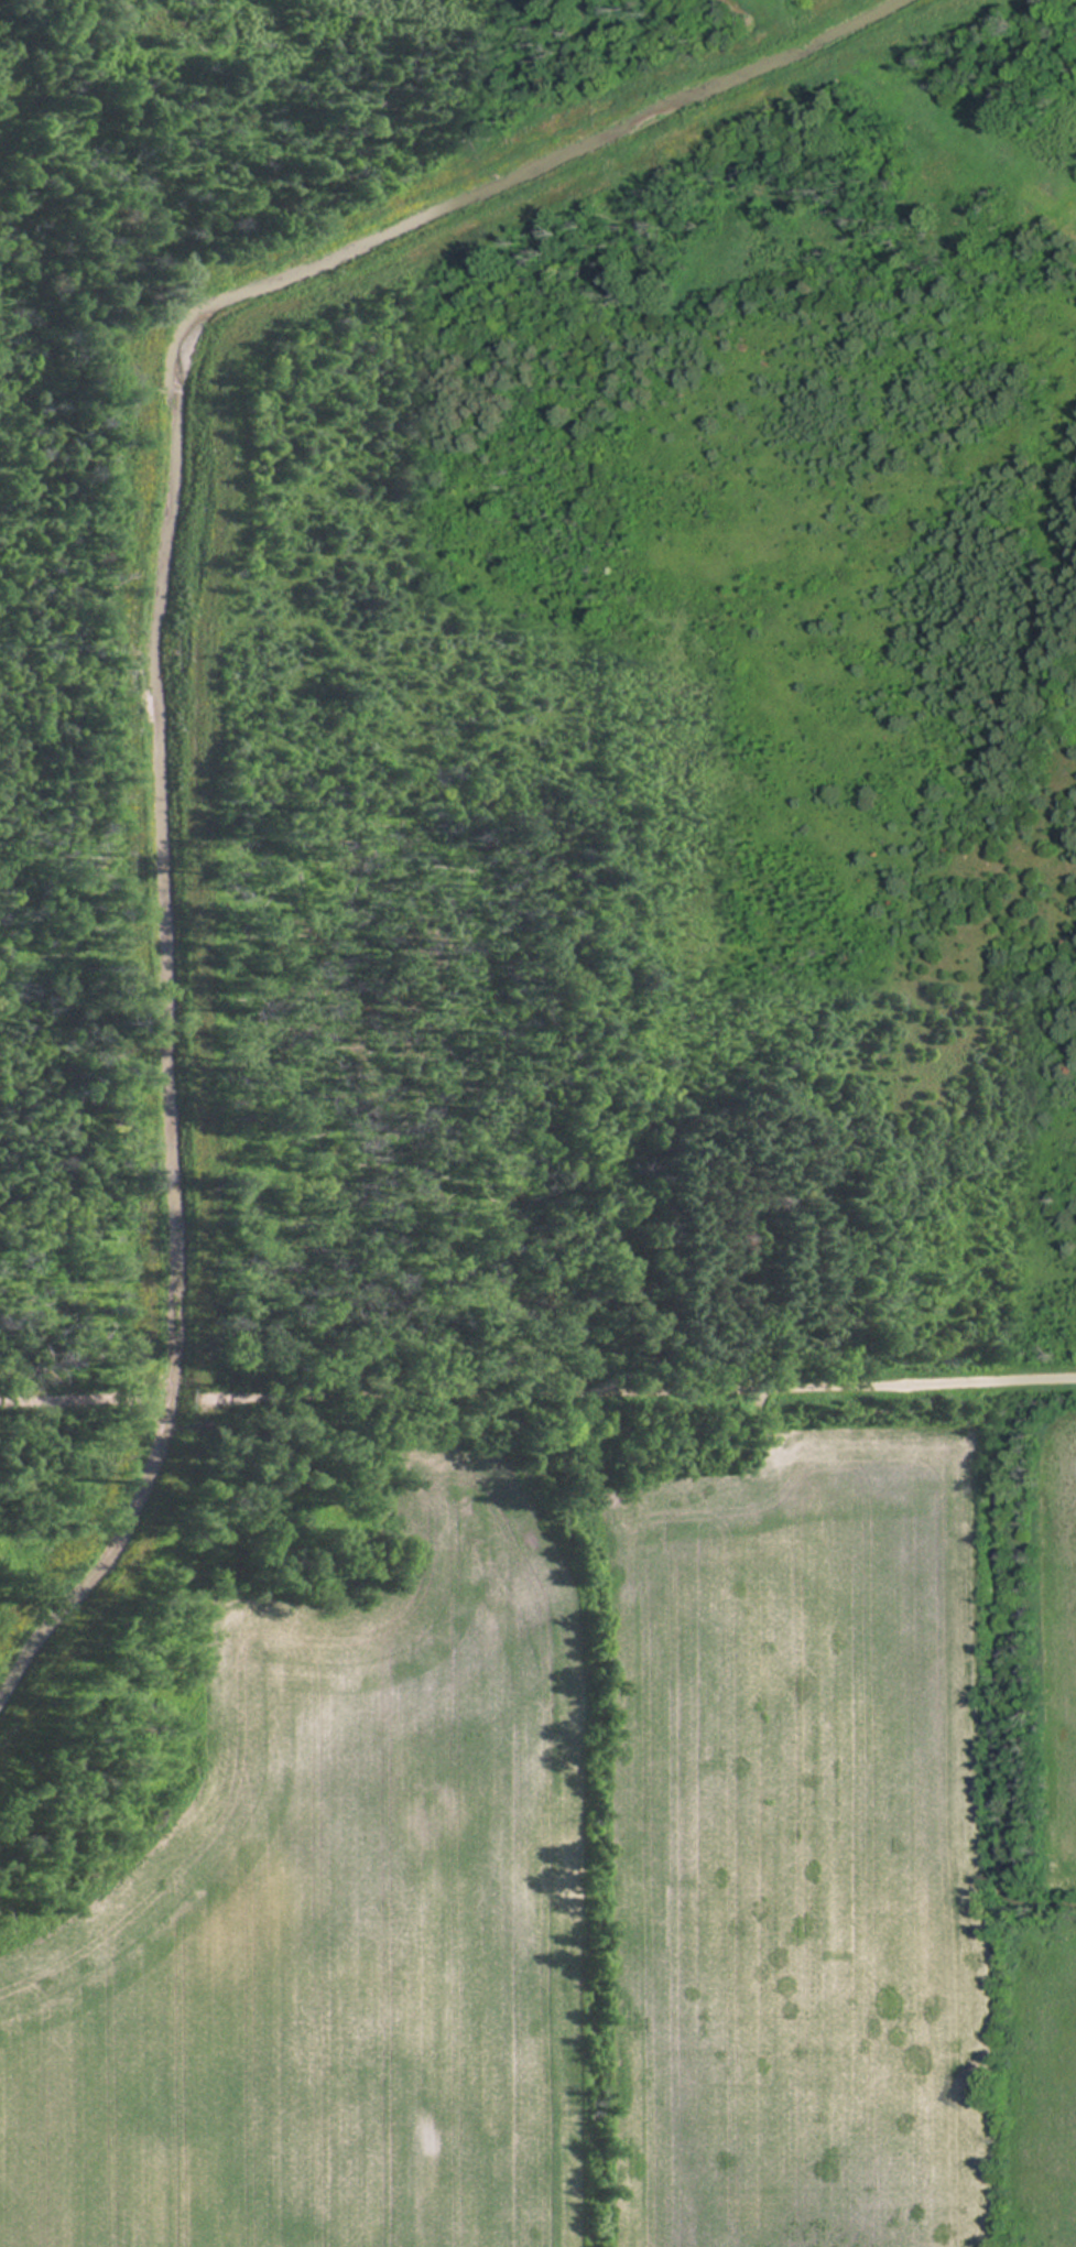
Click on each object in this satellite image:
river: (161, 639)
road: (631, 1398)
road: (72, 1410)

